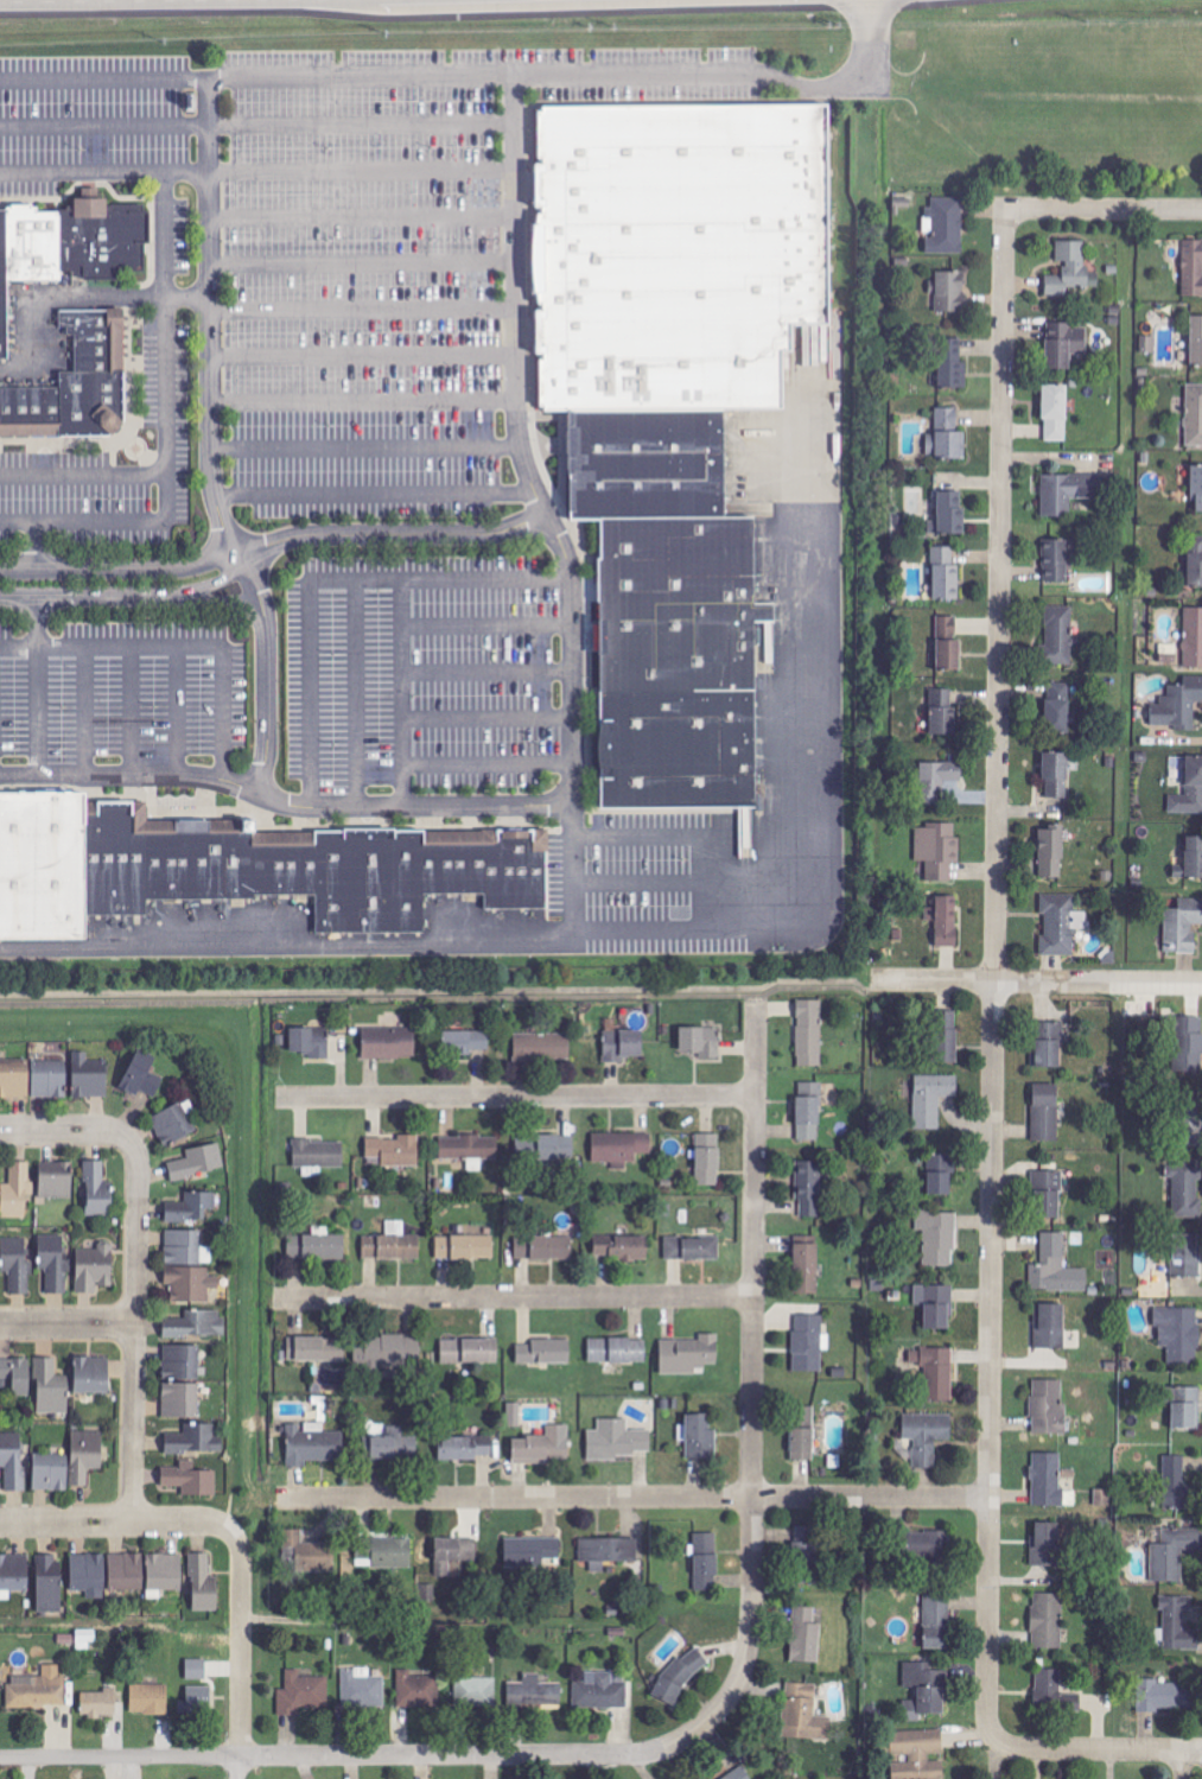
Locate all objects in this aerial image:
road: (377, 75)
road: (846, 82)
road: (257, 125)
road: (257, 170)
road: (1121, 209)
road: (363, 216)
building: (945, 225)
building: (68, 246)
building: (669, 253)
road: (363, 262)
building: (1193, 268)
building: (1071, 269)
parking lot: (325, 273)
building: (950, 292)
road: (187, 296)
road: (363, 309)
building: (1196, 341)
building: (1064, 344)
building: (1150, 345)
road: (364, 355)
building: (952, 364)
building: (74, 389)
road: (364, 401)
building: (1056, 413)
building: (1194, 415)
road: (166, 427)
building: (640, 433)
building: (947, 437)
road: (212, 440)
road: (519, 444)
road: (365, 447)
road: (83, 472)
building: (640, 485)
building: (1197, 485)
road: (375, 493)
building: (1068, 493)
building: (949, 514)
road: (393, 533)
road: (36, 546)
building: (1055, 561)
building: (1195, 563)
road: (120, 567)
building: (946, 574)
road: (330, 578)
road: (212, 584)
road: (89, 595)
road: (222, 598)
building: (672, 599)
road: (39, 621)
road: (488, 624)
building: (1060, 635)
building: (1193, 637)
building: (948, 643)
road: (177, 644)
road: (489, 669)
road: (405, 691)
road: (358, 692)
building: (1178, 705)
road: (85, 709)
road: (132, 709)
road: (178, 709)
building: (1058, 709)
road: (40, 710)
building: (942, 712)
road: (489, 716)
building: (674, 745)
road: (489, 763)
building: (1057, 775)
building: (937, 780)
building: (1190, 790)
road: (285, 800)
road: (663, 834)
building: (939, 850)
building: (1052, 852)
building: (1194, 857)
road: (575, 866)
building: (236, 875)
road: (663, 881)
building: (946, 921)
building: (1061, 925)
building: (1183, 926)
road: (663, 927)
road: (288, 945)
road: (1036, 981)
building: (809, 1034)
building: (946, 1037)
building: (701, 1042)
building: (389, 1043)
building: (466, 1043)
building: (622, 1043)
building: (307, 1044)
building: (1048, 1046)
building: (1189, 1046)
building: (542, 1048)
road: (993, 1059)
building: (89, 1076)
building: (14, 1079)
building: (49, 1079)
building: (141, 1079)
road: (515, 1097)
building: (931, 1099)
building: (809, 1112)
building: (1045, 1113)
building: (1190, 1119)
building: (173, 1125)
road: (69, 1130)
building: (469, 1148)
building: (557, 1148)
building: (621, 1148)
building: (393, 1149)
building: (319, 1154)
building: (708, 1159)
building: (198, 1163)
building: (941, 1175)
building: (56, 1181)
building: (808, 1188)
building: (1185, 1188)
building: (17, 1192)
building: (98, 1192)
building: (1048, 1195)
building: (191, 1208)
building: (939, 1238)
building: (393, 1244)
building: (317, 1247)
building: (465, 1247)
building: (545, 1249)
building: (622, 1249)
building: (693, 1249)
building: (1187, 1257)
building: (17, 1264)
building: (55, 1264)
building: (189, 1267)
building: (95, 1269)
building: (807, 1269)
building: (1056, 1269)
road: (511, 1296)
building: (936, 1307)
road: (68, 1324)
building: (196, 1324)
building: (1050, 1327)
road: (134, 1334)
building: (1181, 1334)
building: (808, 1343)
building: (316, 1349)
building: (470, 1352)
building: (617, 1352)
building: (388, 1353)
building: (545, 1353)
building: (689, 1355)
road: (751, 1365)
building: (939, 1374)
building: (17, 1375)
building: (93, 1375)
building: (182, 1383)
building: (51, 1389)
building: (1185, 1408)
building: (1049, 1409)
building: (515, 1415)
building: (927, 1436)
building: (700, 1438)
building: (195, 1441)
building: (617, 1441)
building: (313, 1444)
building: (393, 1446)
building: (803, 1446)
building: (545, 1448)
building: (468, 1449)
building: (85, 1456)
building: (12, 1461)
building: (51, 1473)
building: (192, 1479)
building: (1047, 1480)
building: (1178, 1486)
road: (634, 1497)
road: (114, 1521)
building: (807, 1542)
building: (929, 1545)
building: (1045, 1546)
building: (306, 1550)
building: (533, 1552)
building: (608, 1552)
building: (1172, 1552)
building: (392, 1554)
building: (453, 1555)
building: (706, 1562)
building: (126, 1571)
building: (165, 1571)
building: (13, 1574)
building: (89, 1575)
building: (807, 1576)
building: (49, 1582)
building: (204, 1584)
building: (937, 1620)
building: (1048, 1620)
building: (1179, 1624)
building: (806, 1635)
road: (241, 1640)
building: (1050, 1686)
building: (362, 1688)
building: (39, 1689)
building: (416, 1689)
building: (600, 1690)
building: (924, 1690)
building: (476, 1691)
building: (303, 1692)
building: (534, 1692)
building: (1165, 1695)
building: (150, 1698)
building: (197, 1699)
building: (98, 1703)
building: (803, 1713)
road: (1200, 1752)
building: (918, 1753)
road: (1200, 1753)
road: (361, 1755)
road: (1188, 1764)
road: (236, 1767)
building: (739, 1774)

